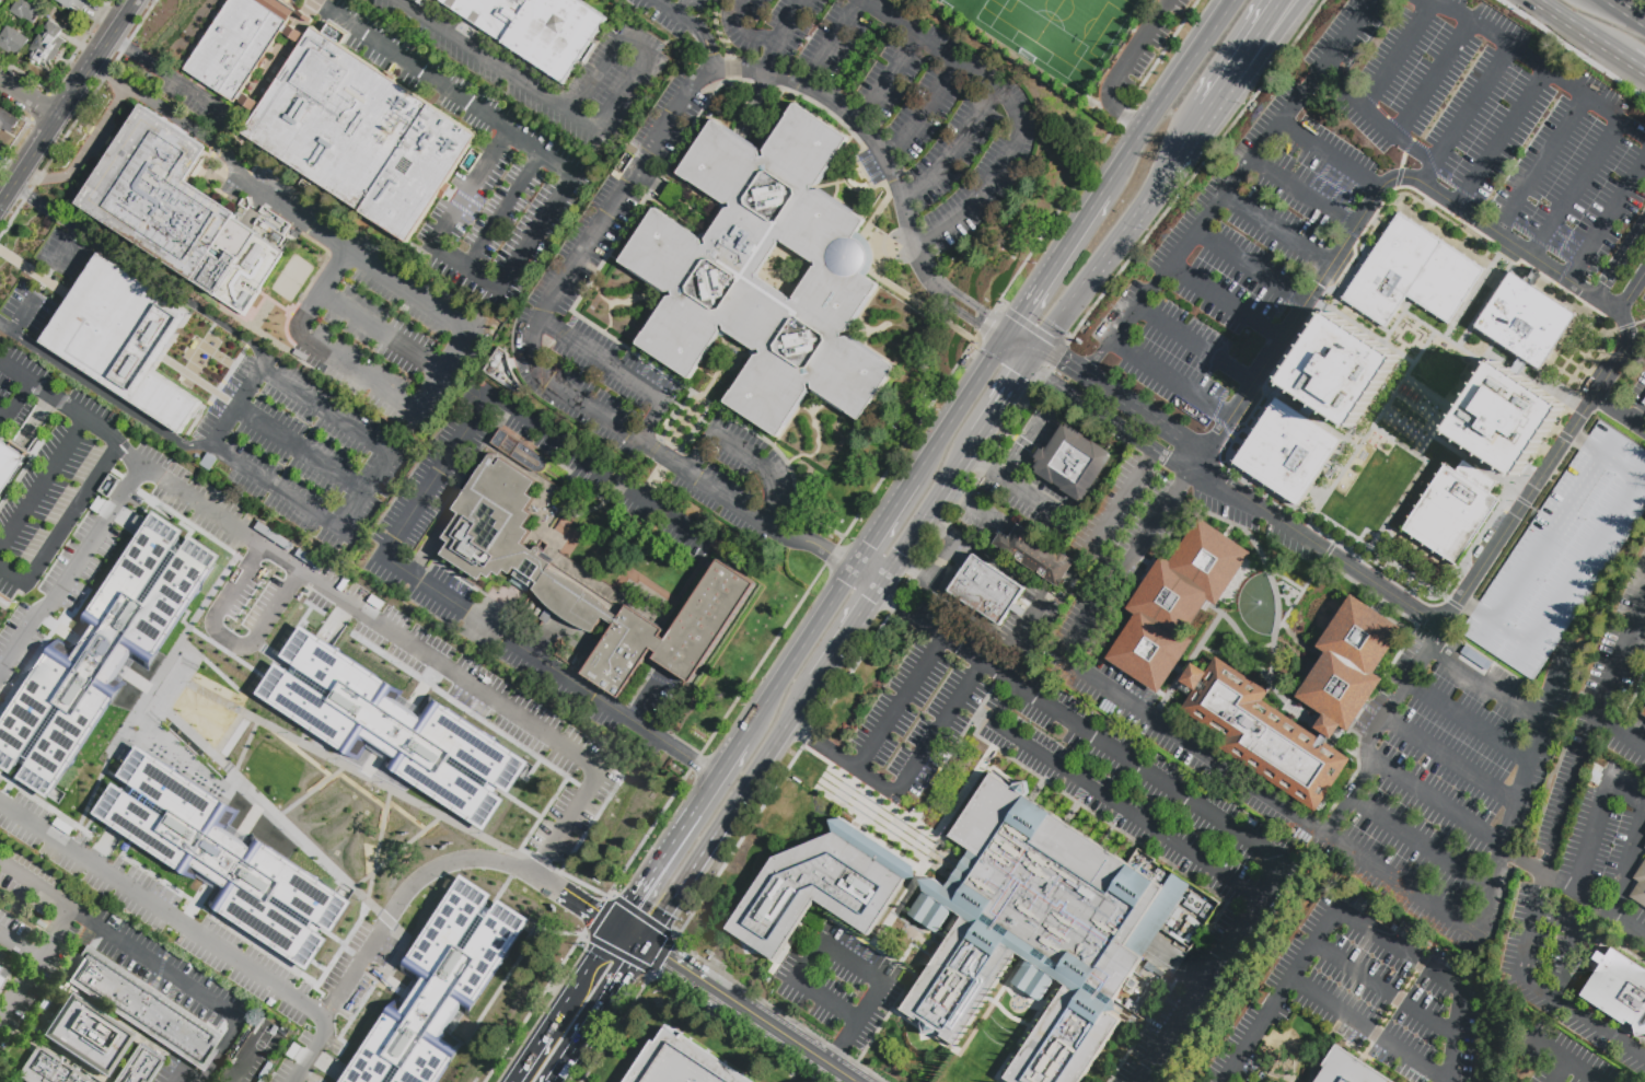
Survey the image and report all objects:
building: (53, 1)
building: (0, 2)
road: (1389, 3)
building: (78, 4)
road: (683, 8)
road: (1627, 11)
building: (28, 12)
parking lot: (669, 12)
road: (694, 27)
building: (537, 30)
park: (1059, 30)
road: (743, 31)
road: (1585, 32)
road: (780, 33)
road: (638, 39)
road: (114, 40)
road: (721, 40)
road: (830, 42)
road: (1142, 42)
park: (1080, 43)
parking lot: (1148, 43)
building: (13, 44)
building: (238, 44)
building: (48, 48)
road: (1360, 49)
road: (1244, 55)
road: (1398, 56)
road: (93, 58)
road: (1259, 58)
road: (1157, 61)
road: (1534, 63)
road: (499, 66)
road: (95, 68)
road: (1640, 68)
road: (884, 75)
road: (1435, 80)
road: (54, 81)
road: (753, 81)
road: (176, 82)
road: (449, 86)
road: (1167, 96)
road: (1367, 97)
parking lot: (903, 98)
road: (26, 101)
road: (1012, 105)
road: (922, 109)
road: (1099, 109)
road: (1291, 109)
road: (161, 110)
road: (1117, 110)
road: (1381, 112)
road: (1467, 115)
road: (1377, 119)
parking lot: (1494, 119)
road: (862, 124)
building: (8, 125)
building: (358, 137)
road: (1502, 139)
road: (1415, 142)
road: (1407, 146)
road: (954, 150)
road: (83, 153)
road: (26, 159)
road: (1402, 160)
road: (1540, 164)
road: (1323, 171)
road: (1194, 172)
road: (1399, 177)
road: (1337, 181)
road: (1320, 185)
road: (1335, 187)
road: (1352, 189)
road: (1457, 189)
road: (1577, 189)
road: (1305, 191)
road: (1334, 195)
road: (1145, 198)
road: (280, 205)
road: (1461, 206)
road: (500, 210)
building: (175, 214)
road: (1344, 218)
road: (1606, 220)
road: (1277, 230)
road: (1348, 231)
road: (1194, 234)
road: (1560, 234)
road: (1572, 241)
road: (1563, 242)
road: (1539, 243)
road: (1566, 249)
road: (71, 251)
road: (1527, 253)
parking lot: (1233, 255)
road: (1620, 259)
road: (1056, 261)
road: (1249, 268)
road: (141, 269)
road: (464, 271)
road: (1562, 272)
building: (696, 274)
building: (1413, 275)
road: (1299, 281)
road: (323, 292)
road: (1631, 292)
road: (1290, 294)
parking lot: (1643, 295)
road: (1225, 303)
road: (1298, 306)
road: (975, 309)
road: (1277, 311)
traffic signals: (1020, 315)
road: (449, 316)
road: (1414, 316)
road: (25, 317)
road: (1062, 317)
road: (968, 321)
building: (1526, 321)
road: (1028, 325)
traffic signals: (978, 327)
road: (7, 328)
road: (384, 330)
road: (1006, 337)
road: (1024, 339)
building: (121, 341)
road: (1195, 345)
road: (530, 350)
road: (1486, 353)
road: (1502, 354)
road: (1015, 356)
road: (603, 358)
road: (1034, 358)
road: (1097, 361)
road: (1557, 361)
traffic signals: (1058, 362)
road: (1047, 367)
road: (358, 372)
road: (21, 375)
road: (1080, 375)
traffic signals: (1019, 381)
road: (1169, 381)
road: (26, 387)
road: (1279, 388)
parking lot: (1637, 394)
road: (1221, 395)
road: (53, 397)
road: (111, 398)
road: (240, 400)
road: (1455, 402)
road: (1004, 403)
road: (12, 407)
building: (1344, 409)
road: (1619, 411)
road: (76, 412)
road: (955, 412)
road: (1640, 415)
building: (1507, 418)
road: (1109, 420)
road: (1216, 420)
road: (653, 422)
road: (95, 426)
road: (1439, 426)
road: (1162, 428)
road: (1340, 430)
road: (111, 435)
road: (1026, 444)
road: (302, 449)
building: (519, 451)
road: (696, 453)
road: (1355, 455)
road: (1603, 457)
building: (1073, 462)
road: (977, 463)
building: (10, 464)
road: (1428, 464)
building: (1485, 465)
road: (594, 467)
road: (765, 468)
road: (433, 477)
road: (652, 479)
road: (1511, 484)
road: (44, 487)
road: (367, 491)
road: (1027, 495)
building: (551, 504)
road: (1258, 507)
parking lot: (1223, 509)
road: (72, 510)
road: (931, 511)
road: (978, 511)
building: (1452, 511)
road: (1108, 514)
parking lot: (1126, 520)
road: (883, 523)
parking lot: (1169, 524)
road: (941, 527)
road: (791, 535)
road: (1548, 538)
parking lot: (1290, 545)
road: (1035, 547)
road: (829, 552)
building: (1035, 554)
building: (1559, 554)
parking garage: (1559, 554)
road: (942, 557)
road: (1428, 559)
road: (1385, 562)
road: (1000, 567)
road: (914, 568)
road: (69, 570)
road: (1582, 570)
road: (13, 571)
road: (870, 573)
building: (534, 578)
road: (1380, 587)
building: (986, 590)
fountain: (1259, 602)
building: (1173, 604)
road: (9, 606)
road: (968, 614)
road: (1029, 620)
road: (1494, 623)
road: (1640, 627)
road: (852, 631)
road: (228, 640)
road: (405, 643)
road: (524, 650)
building: (103, 652)
road: (798, 653)
road: (1486, 683)
road: (1607, 685)
road: (899, 705)
building: (1226, 705)
building: (1644, 714)
road: (1468, 721)
building: (393, 728)
road: (937, 729)
road: (1450, 759)
road: (691, 761)
road: (839, 763)
road: (1385, 769)
road: (704, 795)
road: (1186, 796)
road: (1108, 799)
road: (1351, 800)
road: (955, 803)
road: (731, 812)
road: (1597, 817)
road: (1311, 826)
building: (1644, 831)
road: (1422, 847)
building: (1644, 847)
building: (223, 858)
road: (1630, 862)
road: (440, 868)
road: (26, 880)
building: (1638, 884)
building: (822, 886)
road: (913, 887)
road: (642, 888)
road: (1575, 894)
traffic signals: (633, 904)
road: (66, 906)
traffic signals: (596, 915)
road: (1533, 917)
parking lot: (1575, 917)
road: (1351, 921)
road: (801, 927)
road: (192, 929)
building: (1051, 930)
parking lot: (1516, 930)
road: (630, 935)
road: (19, 944)
road: (1573, 946)
parking lot: (1550, 954)
traffic signals: (664, 958)
road: (151, 962)
road: (670, 962)
road: (807, 962)
road: (32, 966)
traffic signals: (626, 969)
building: (0, 970)
road: (621, 977)
road: (1007, 982)
building: (1, 985)
building: (440, 987)
building: (555, 988)
road: (577, 990)
building: (1619, 990)
road: (1386, 991)
road: (1020, 1000)
road: (869, 1003)
road: (1043, 1004)
building: (147, 1011)
road: (618, 1023)
road: (773, 1031)
road: (1369, 1032)
building: (86, 1037)
park: (263, 1038)
road: (842, 1045)
road: (223, 1046)
road: (576, 1047)
road: (952, 1050)
road: (1130, 1051)
parking lot: (1560, 1054)
road: (242, 1059)
road: (1567, 1060)
building: (680, 1062)
building: (140, 1067)
road: (526, 1068)
building: (1347, 1069)
building: (46, 1070)
road: (1560, 1071)
road: (193, 1078)
building: (332, 1080)
road: (181, 1081)

